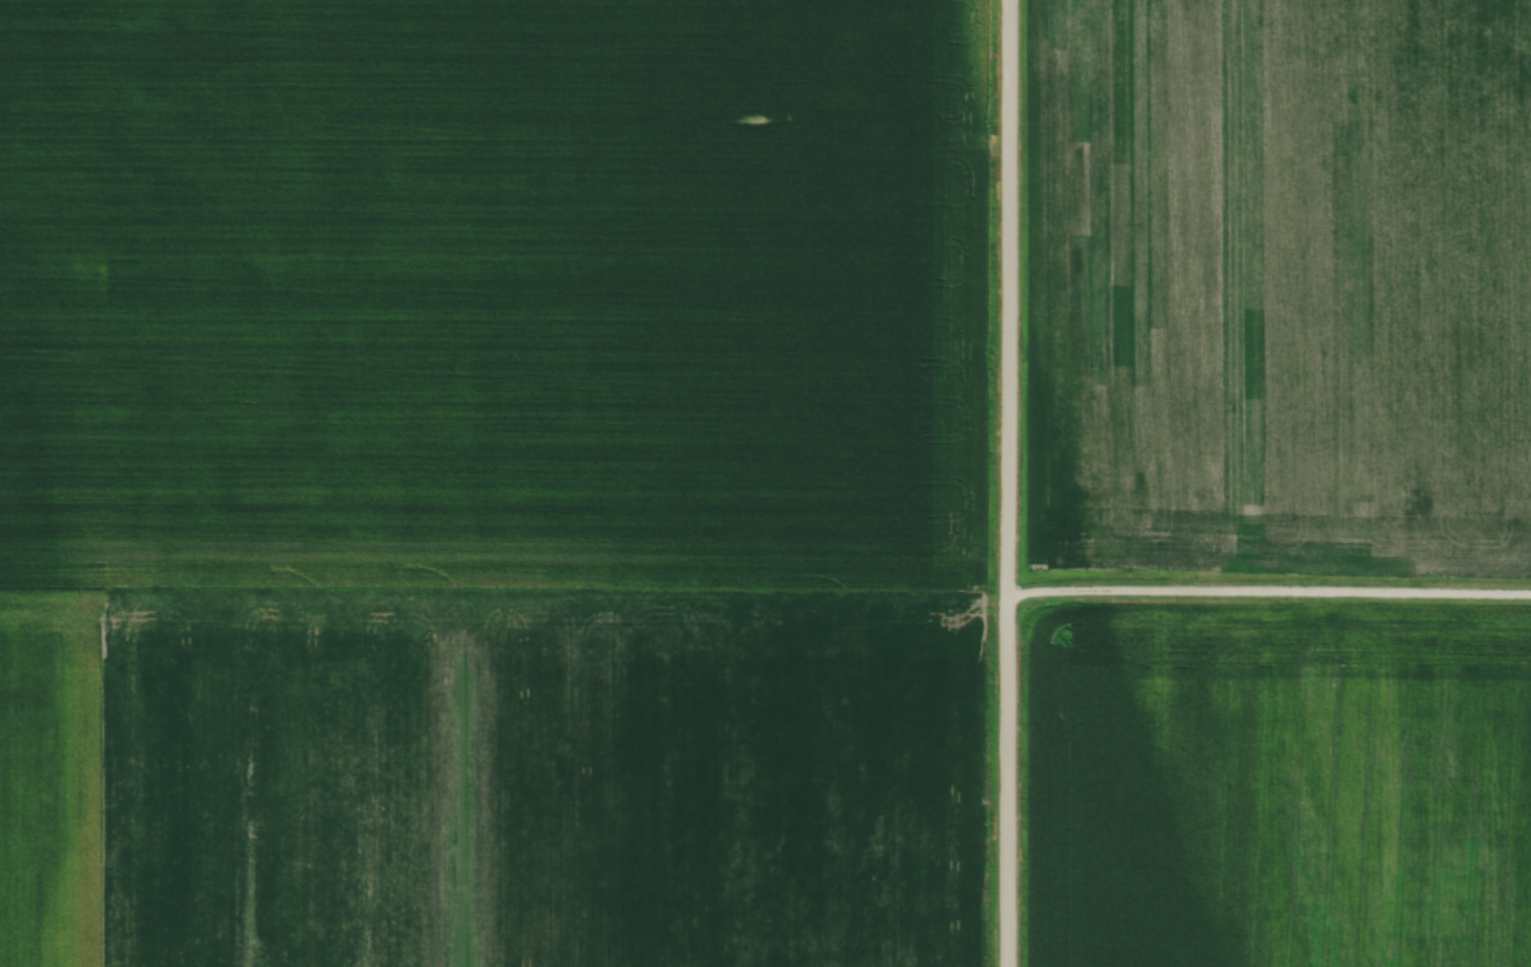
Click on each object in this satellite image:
road: (1007, 483)
road: (1269, 598)

